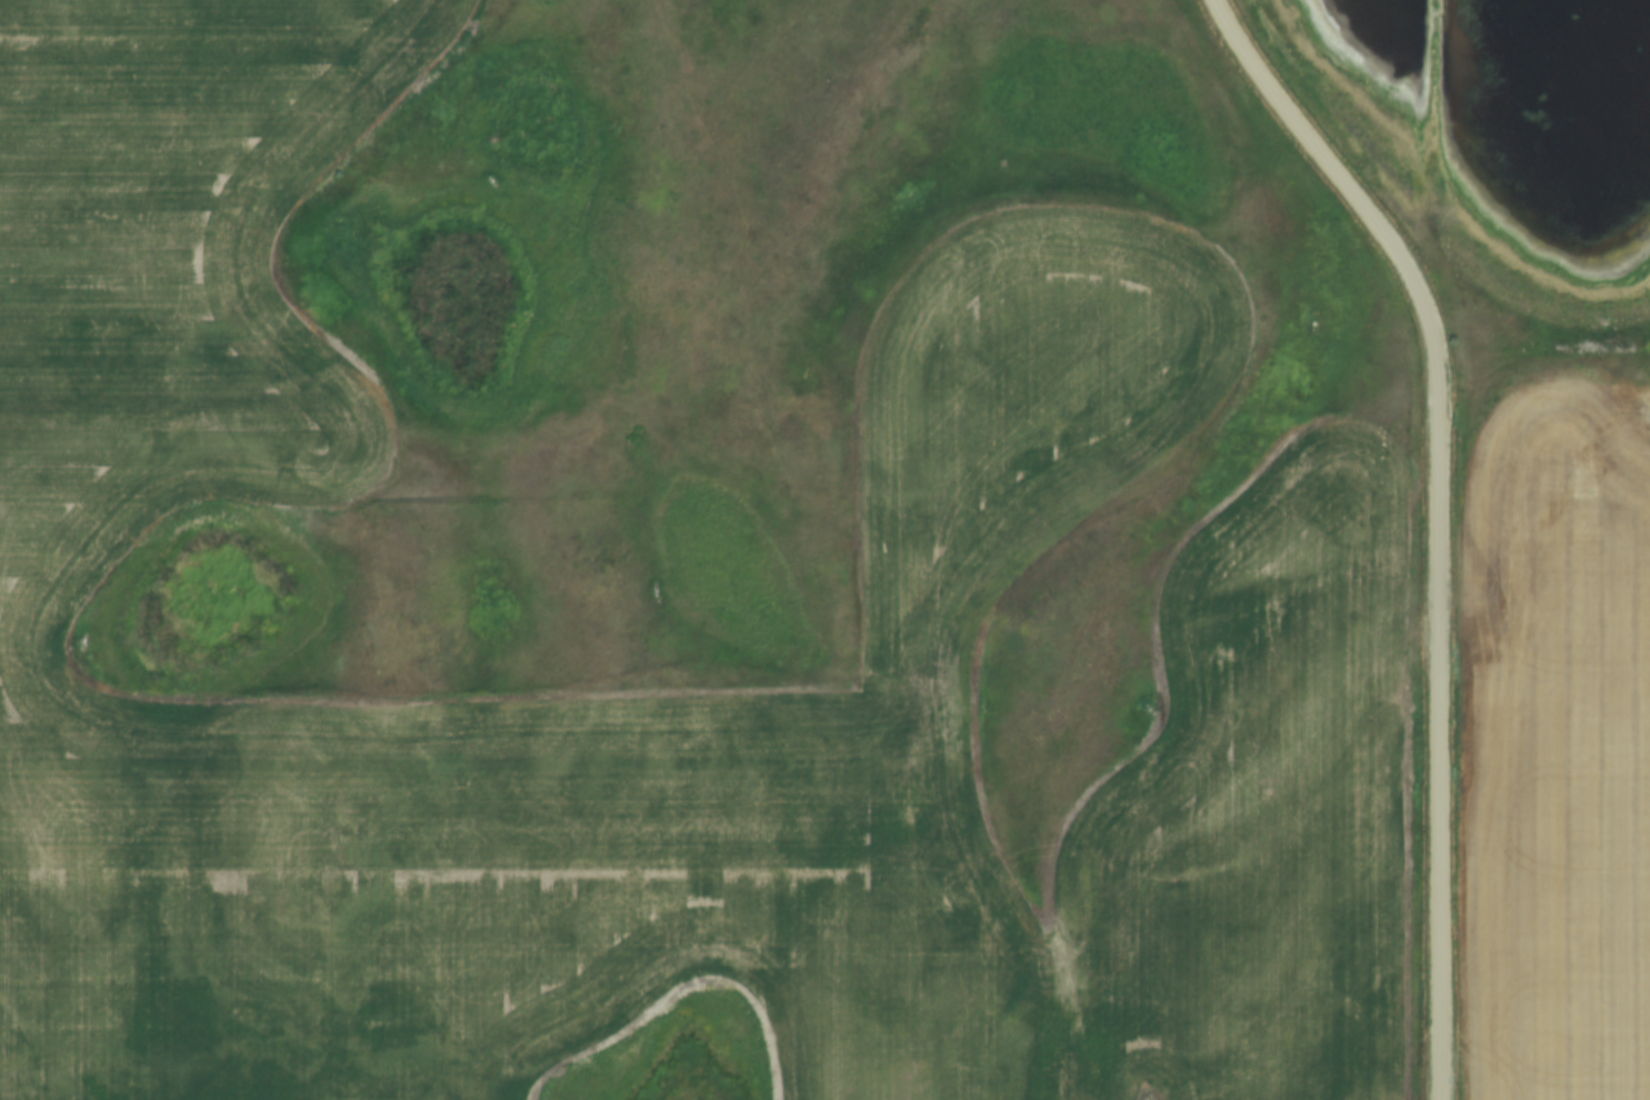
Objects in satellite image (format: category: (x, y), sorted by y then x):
road: (1440, 516)

